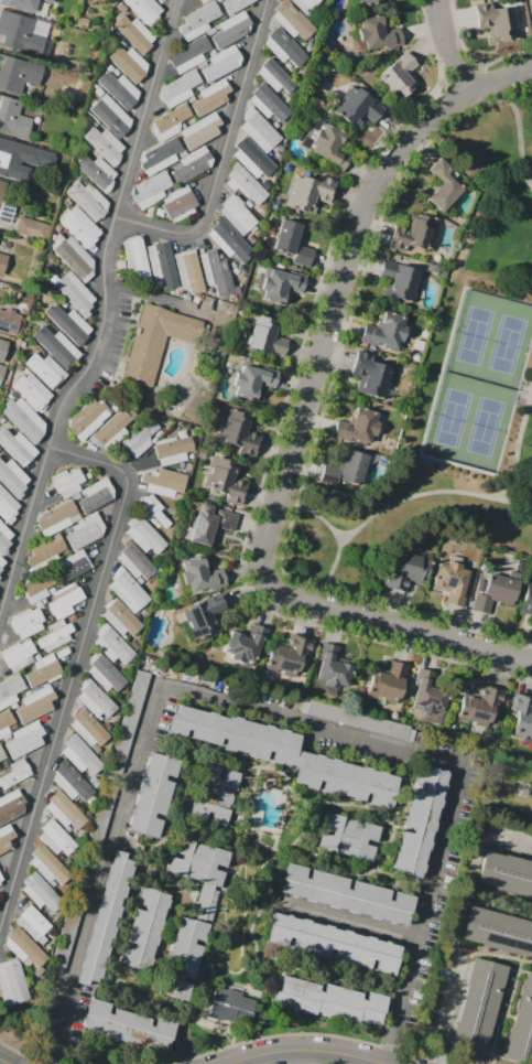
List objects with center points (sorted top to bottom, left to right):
building: (202, 0)
building: (50, 1)
building: (205, 1)
building: (372, 1)
building: (236, 4)
building: (20, 6)
building: (307, 6)
building: (145, 9)
building: (531, 17)
building: (199, 20)
building: (293, 20)
building: (84, 21)
building: (500, 23)
building: (231, 30)
building: (211, 32)
building: (22, 34)
building: (134, 34)
building: (377, 34)
building: (285, 47)
road: (449, 50)
building: (189, 54)
building: (127, 62)
building: (221, 63)
building: (18, 74)
building: (399, 75)
building: (275, 76)
road: (500, 82)
building: (180, 88)
building: (119, 89)
building: (211, 97)
building: (269, 103)
building: (357, 107)
building: (111, 115)
building: (13, 118)
building: (170, 122)
building: (260, 130)
road: (515, 130)
building: (197, 133)
building: (325, 143)
building: (105, 144)
building: (160, 155)
building: (12, 157)
building: (253, 159)
road: (226, 160)
building: (193, 164)
building: (97, 171)
building: (245, 183)
building: (444, 184)
building: (2, 189)
building: (150, 190)
building: (308, 191)
building: (34, 197)
building: (88, 200)
building: (248, 203)
building: (178, 204)
building: (237, 215)
building: (79, 226)
building: (31, 228)
building: (413, 233)
building: (293, 241)
building: (231, 245)
building: (73, 254)
building: (137, 258)
building: (2, 262)
building: (162, 264)
building: (187, 271)
building: (215, 272)
building: (400, 280)
building: (281, 286)
building: (75, 294)
road: (152, 297)
road: (105, 311)
building: (10, 322)
building: (68, 323)
building: (386, 331)
building: (262, 334)
parking lot: (131, 338)
road: (319, 340)
building: (155, 341)
building: (56, 346)
building: (44, 369)
building: (2, 370)
building: (372, 376)
building: (253, 380)
park: (479, 380)
park: (454, 389)
building: (31, 391)
building: (22, 419)
building: (87, 419)
building: (357, 426)
building: (110, 427)
building: (238, 432)
building: (140, 437)
building: (173, 449)
building: (20, 450)
building: (348, 467)
building: (11, 477)
building: (225, 480)
building: (67, 482)
building: (163, 482)
road: (445, 491)
building: (96, 495)
road: (513, 499)
building: (8, 506)
building: (152, 509)
building: (55, 517)
building: (209, 525)
building: (85, 530)
building: (144, 534)
building: (3, 537)
road: (338, 538)
building: (45, 551)
road: (338, 557)
building: (1, 560)
building: (134, 561)
building: (74, 566)
building: (0, 570)
building: (406, 570)
building: (200, 574)
building: (452, 581)
building: (39, 588)
building: (128, 590)
building: (495, 593)
building: (66, 601)
building: (526, 601)
building: (120, 617)
building: (203, 617)
building: (25, 620)
building: (531, 623)
building: (56, 635)
road: (420, 635)
building: (245, 643)
building: (112, 645)
building: (289, 655)
building: (17, 656)
road: (77, 663)
building: (334, 666)
building: (44, 670)
building: (105, 673)
building: (386, 683)
building: (10, 690)
building: (428, 691)
building: (95, 699)
building: (36, 703)
building: (479, 705)
building: (130, 711)
road: (273, 716)
building: (358, 720)
building: (522, 720)
building: (4, 722)
building: (89, 729)
building: (24, 739)
building: (1, 754)
building: (284, 754)
building: (80, 755)
building: (15, 773)
building: (70, 782)
building: (151, 794)
building: (213, 795)
building: (11, 806)
building: (64, 810)
building: (417, 821)
building: (6, 837)
building: (55, 838)
building: (348, 838)
building: (47, 866)
building: (506, 874)
building: (0, 877)
building: (0, 881)
building: (41, 893)
building: (347, 894)
building: (106, 916)
building: (203, 918)
building: (33, 923)
road: (352, 923)
road: (454, 923)
building: (144, 928)
building: (497, 931)
building: (335, 944)
building: (24, 947)
building: (12, 982)
building: (328, 1001)
building: (478, 1004)
building: (230, 1007)
building: (521, 1024)
building: (129, 1025)
road: (303, 1054)

